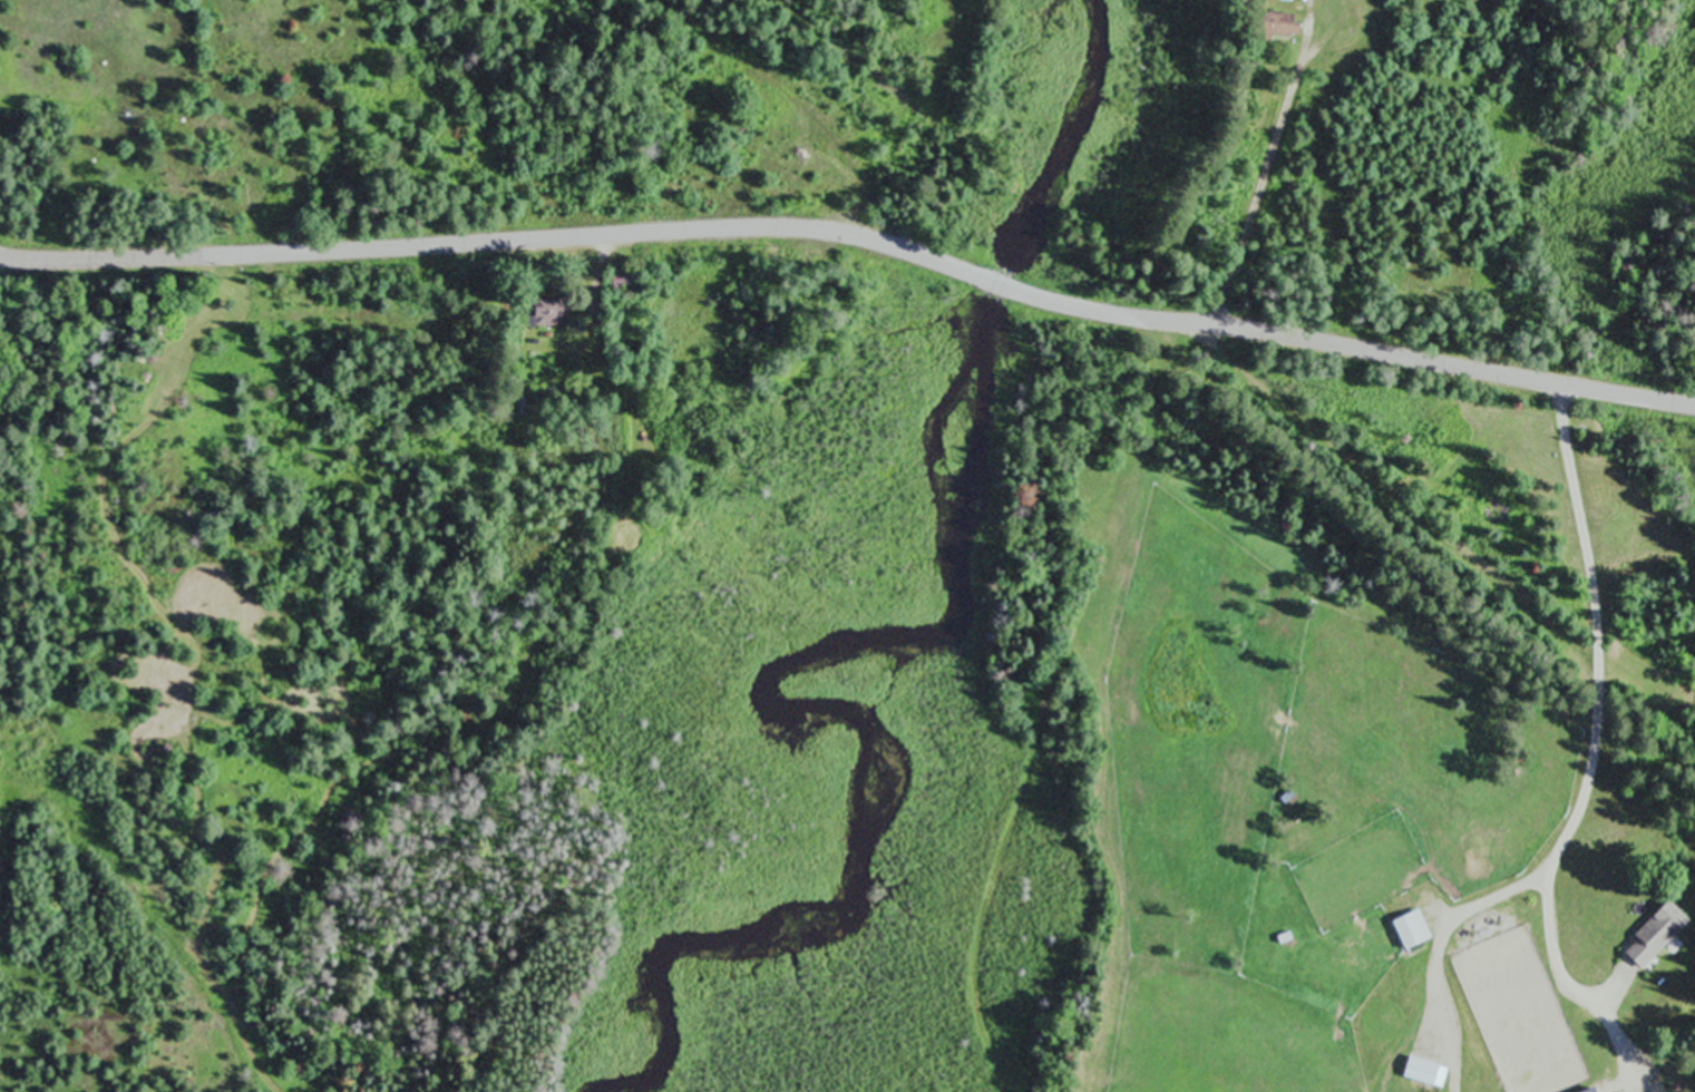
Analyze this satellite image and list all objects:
building: (1288, 26)
road: (489, 235)
building: (630, 276)
road: (1003, 282)
building: (555, 312)
road: (1364, 344)
building: (133, 373)
road: (1363, 478)
road: (1578, 811)
building: (1413, 930)
building: (1658, 934)
building: (1421, 1072)

